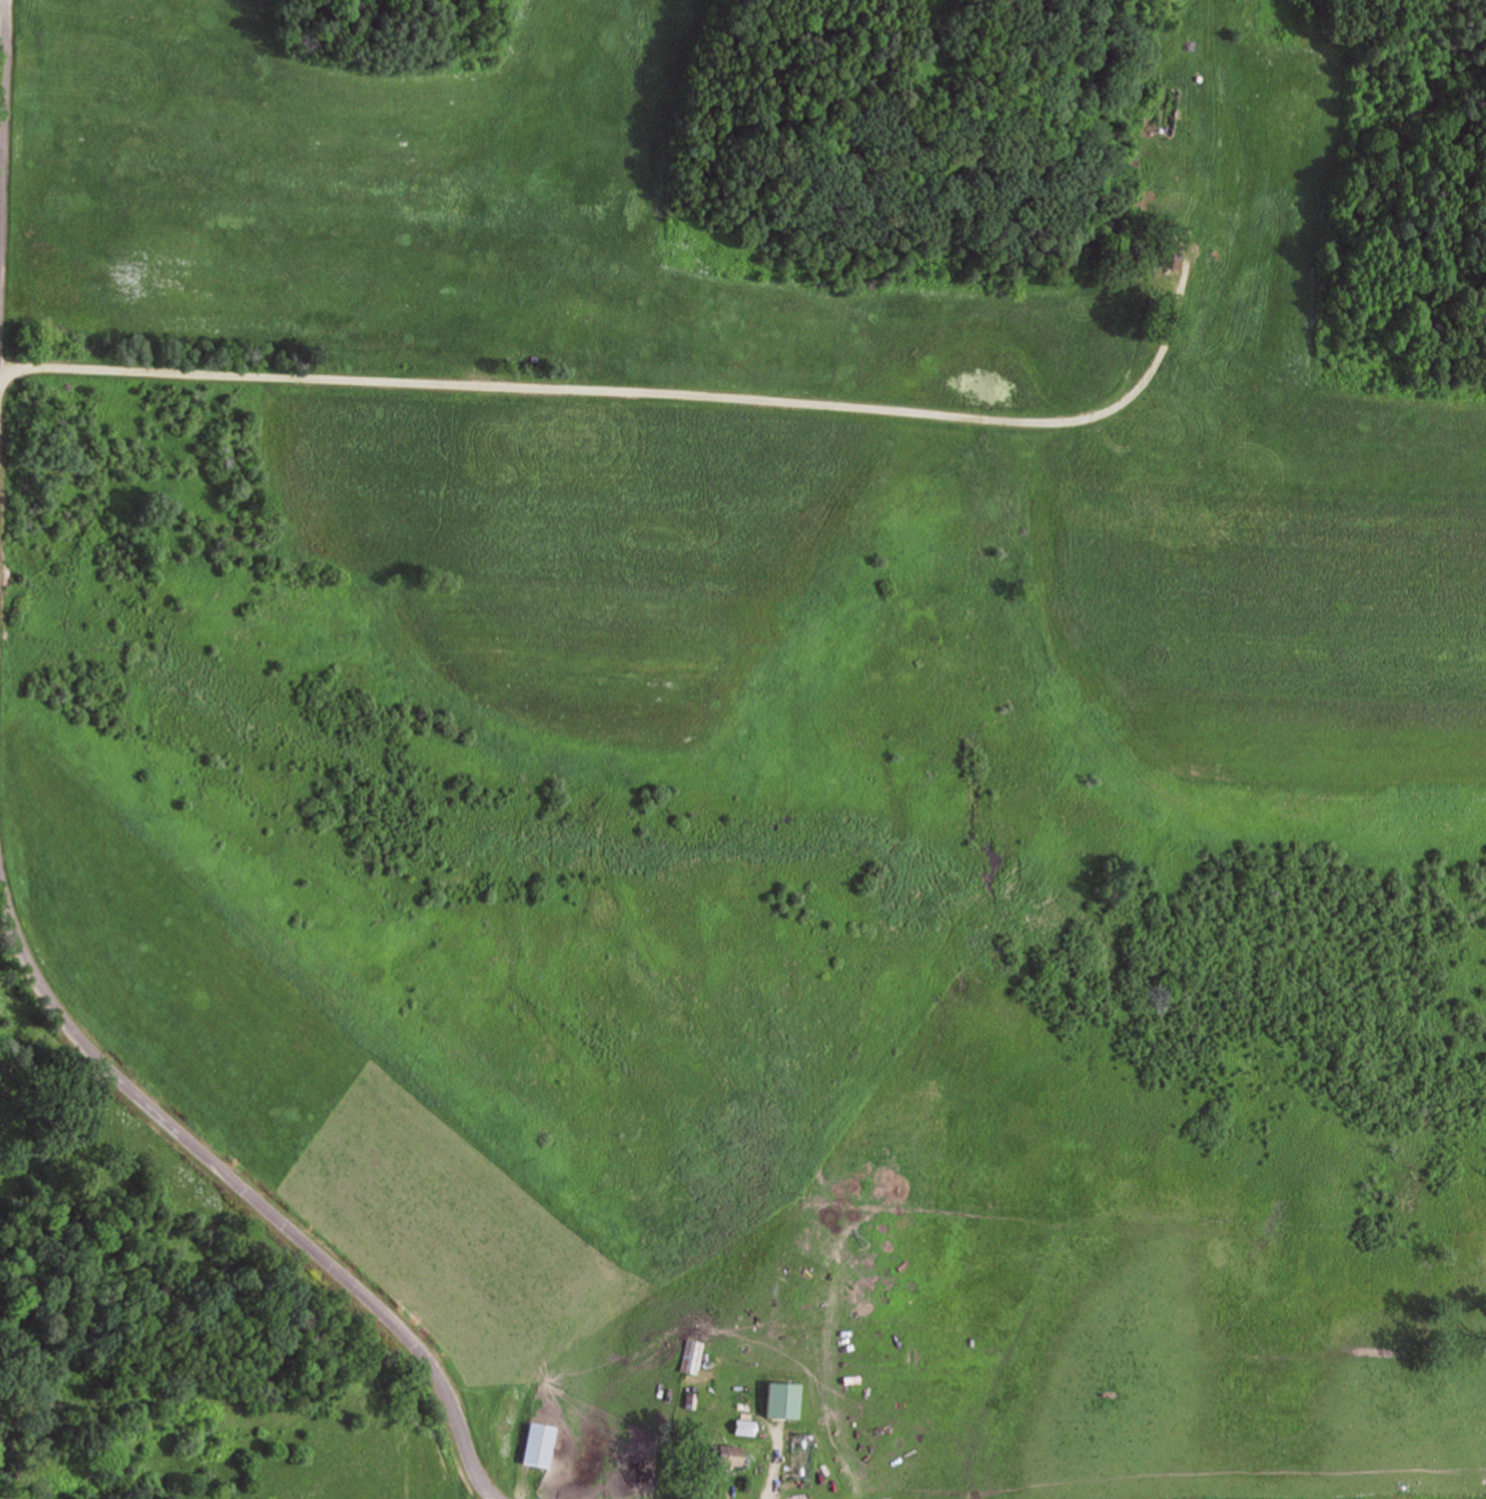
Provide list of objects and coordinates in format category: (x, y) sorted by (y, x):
crop: (2, 81)
road: (3, 120)
building: (1166, 257)
crop: (755, 375)
road: (567, 385)
crop: (292, 1084)
road: (247, 1187)
building: (691, 1358)
building: (779, 1402)
building: (742, 1428)
crop: (318, 1436)
building: (543, 1445)
building: (720, 1456)

